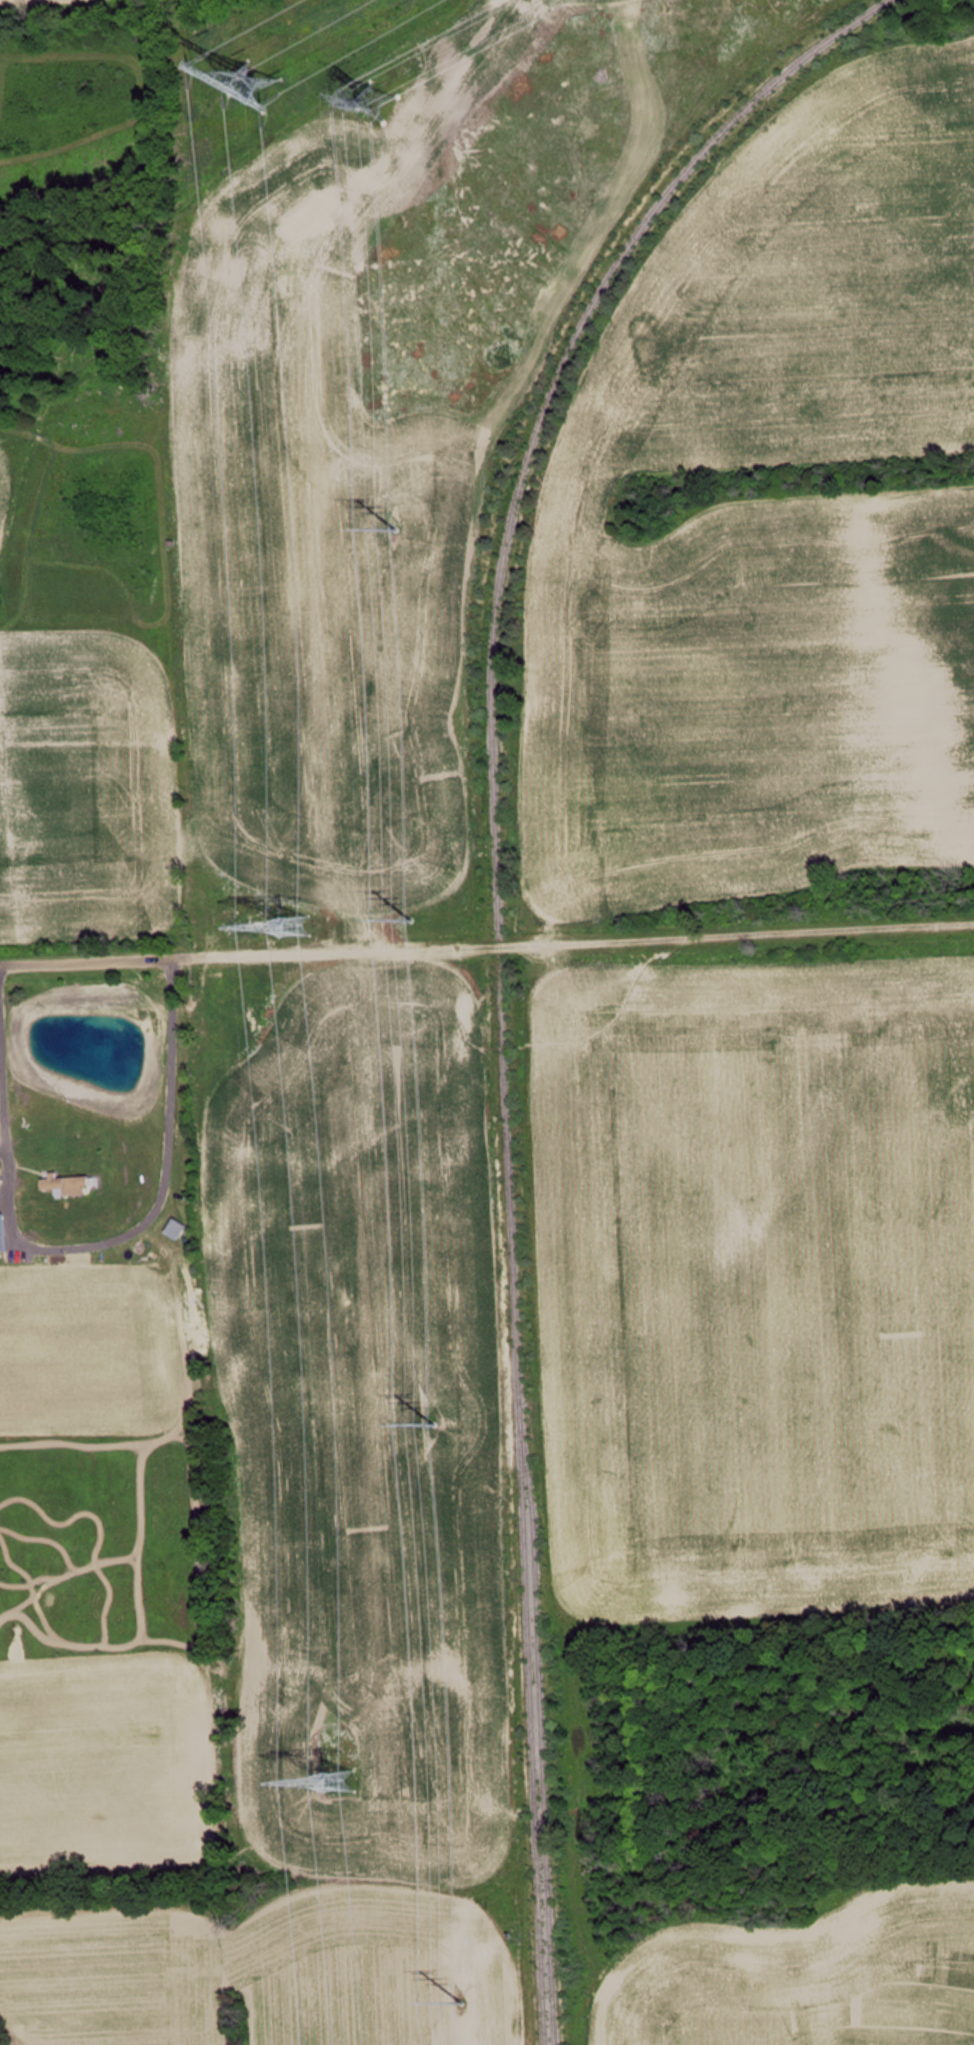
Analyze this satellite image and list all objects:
power tower: (256, 76)
power tower: (373, 104)
power tower: (395, 532)
power tower: (411, 921)
power tower: (296, 930)
road: (486, 944)
railway: (491, 954)
building: (62, 1185)
power tower: (436, 1424)
power tower: (339, 1783)
power tower: (461, 2000)

